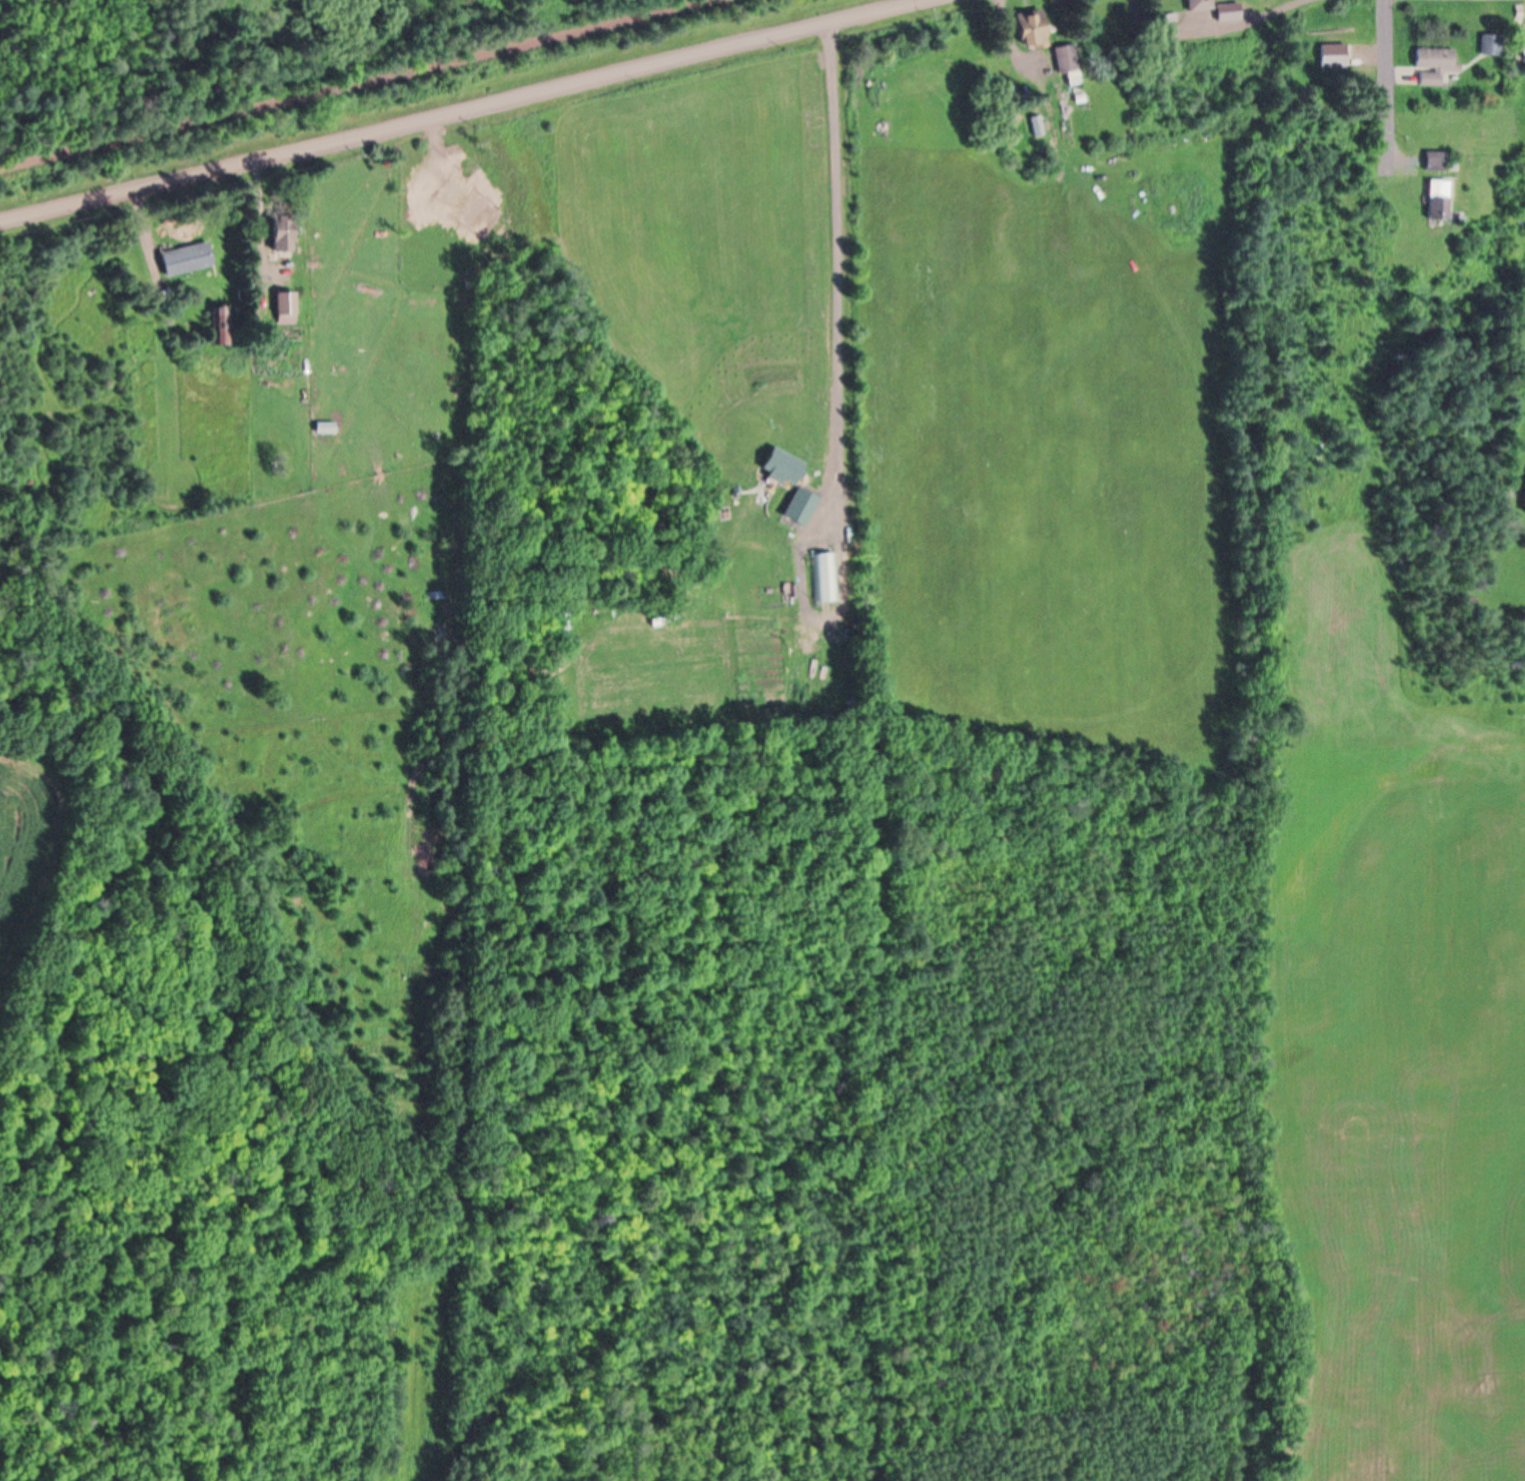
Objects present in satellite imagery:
road: (892, 10)
building: (1201, 10)
building: (1229, 15)
building: (1032, 29)
road: (1219, 37)
building: (1524, 54)
building: (1334, 58)
building: (1067, 62)
building: (1436, 67)
road: (349, 83)
road: (1387, 87)
road: (423, 121)
building: (1037, 128)
building: (1437, 163)
building: (1441, 203)
building: (282, 236)
building: (187, 262)
building: (286, 306)
building: (221, 328)
building: (324, 431)
building: (1524, 490)
crop: (1103, 654)

